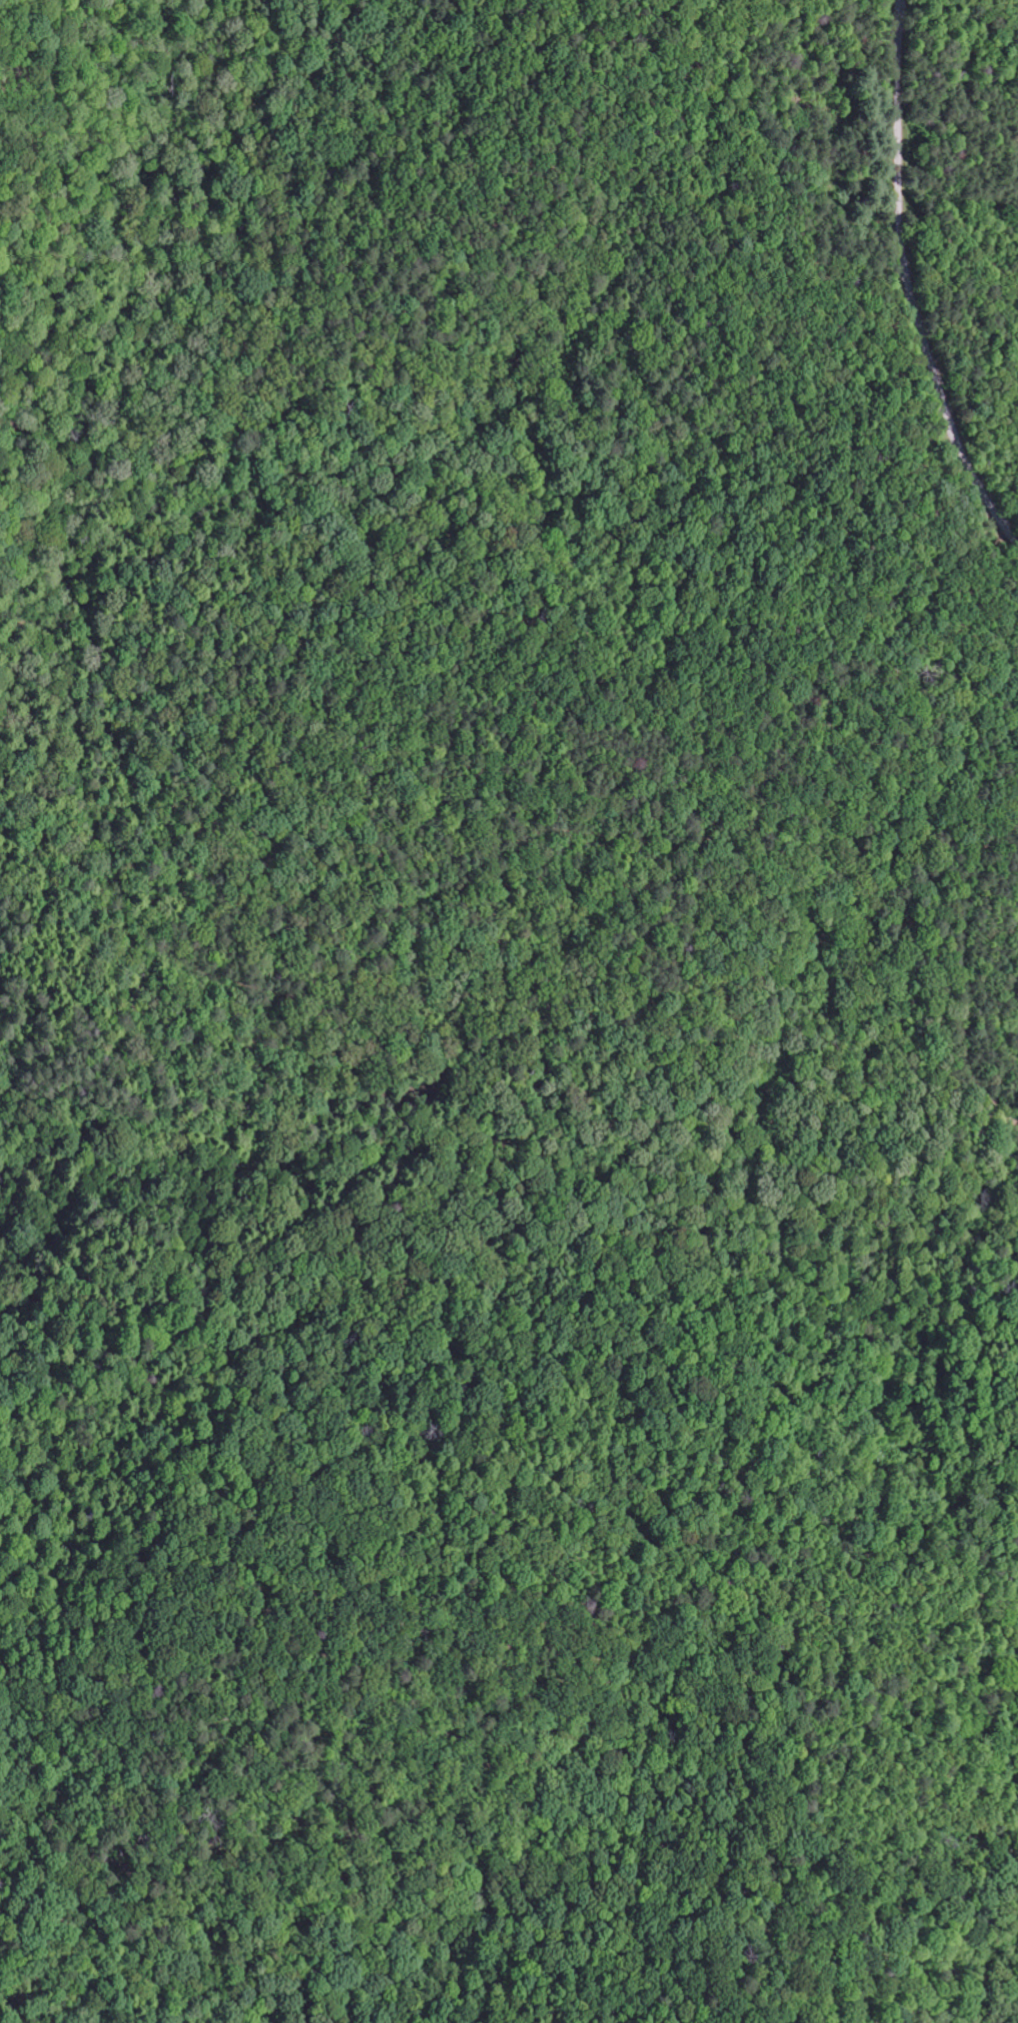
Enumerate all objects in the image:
road: (909, 280)
road: (942, 956)

